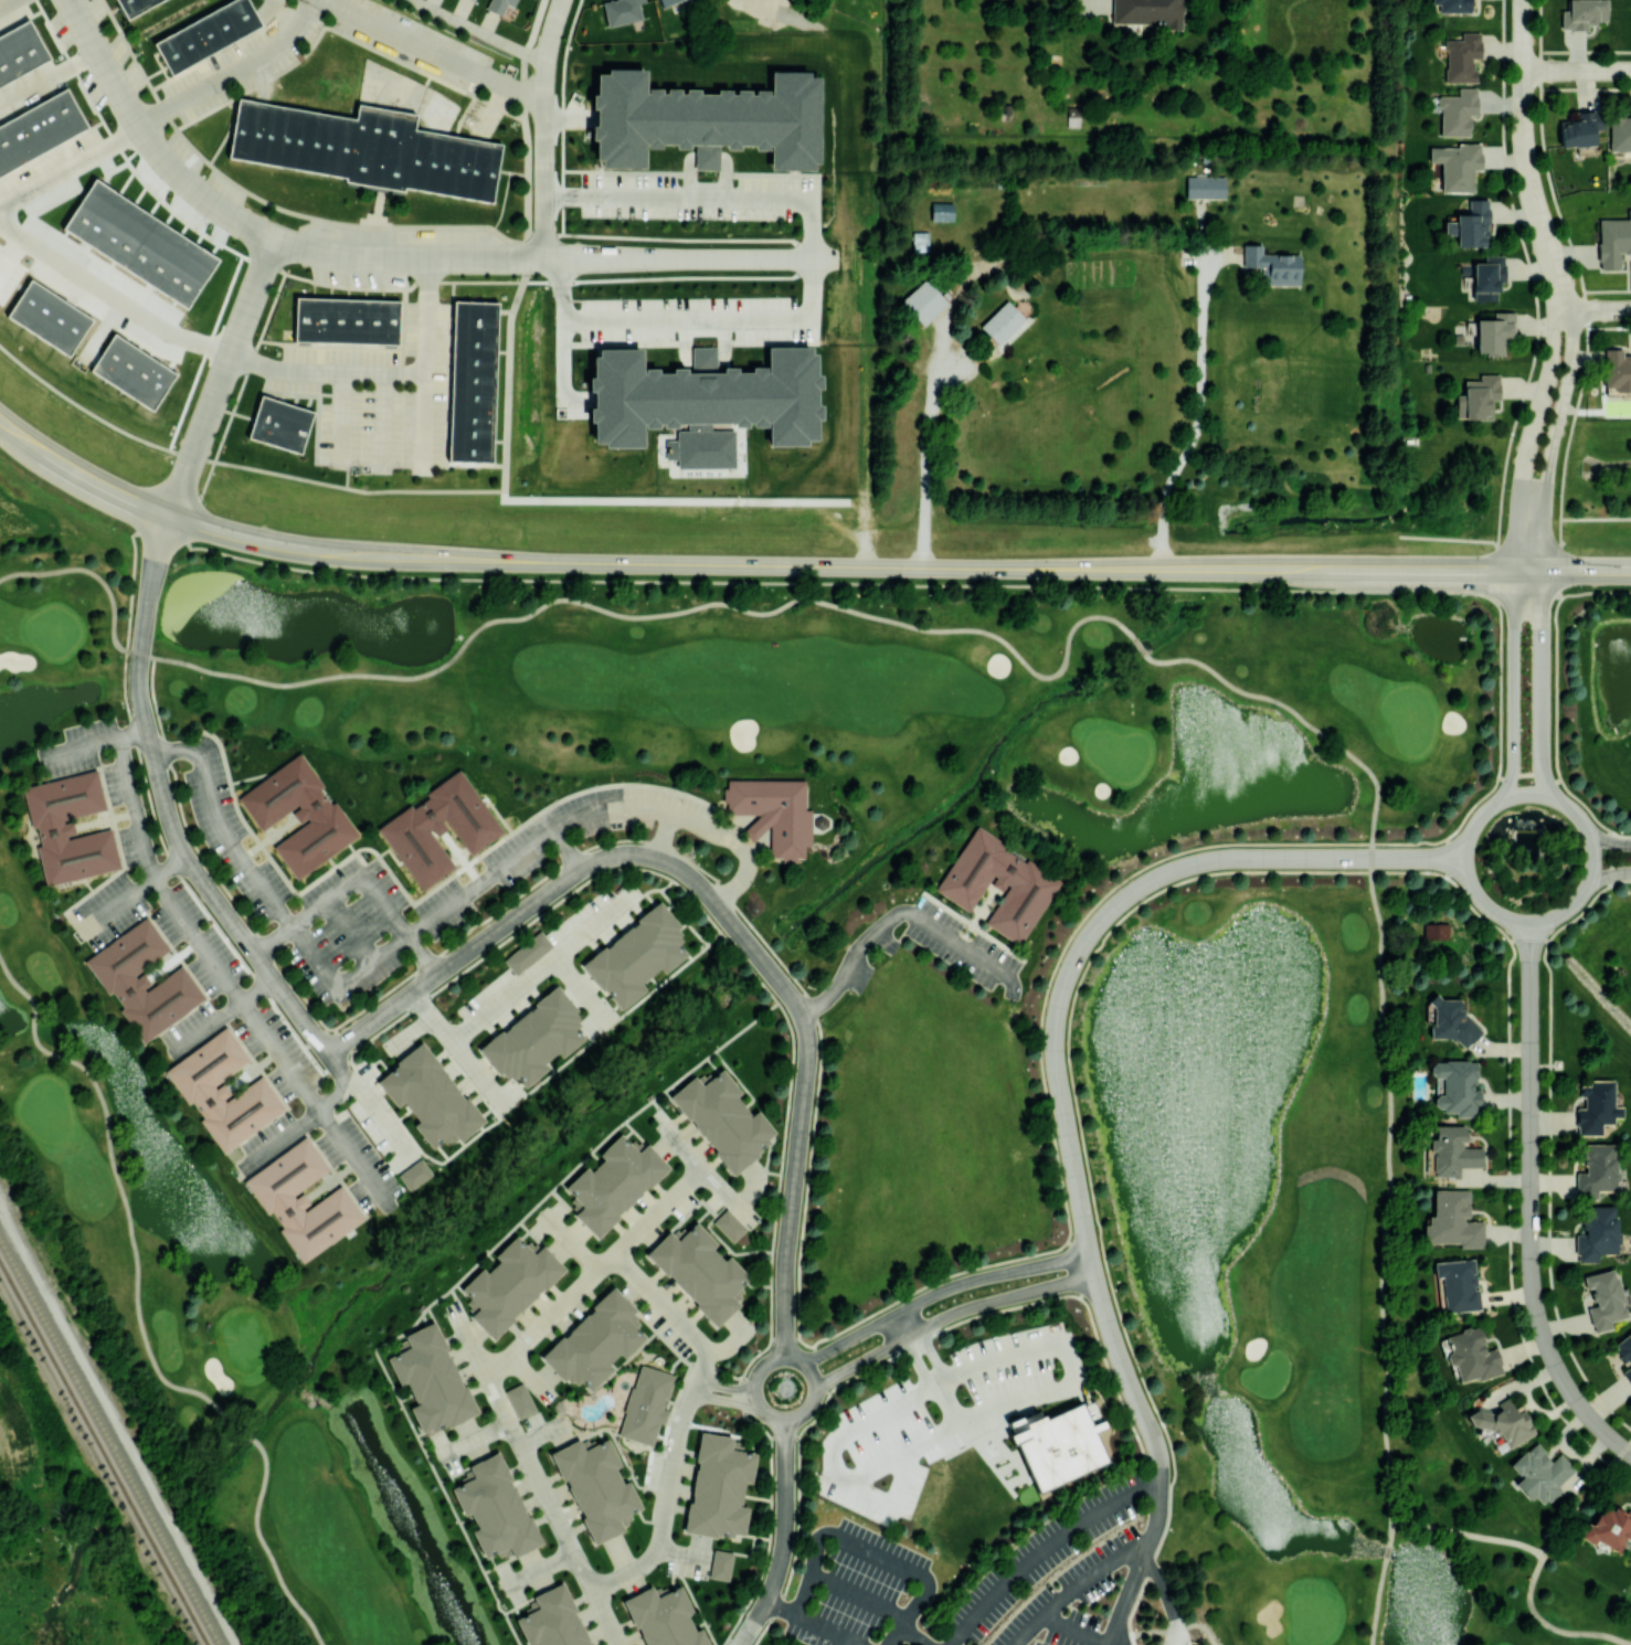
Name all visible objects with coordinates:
road: (1098, 0)
road: (3, 1)
building: (667, 2)
building: (498, 4)
road: (751, 6)
building: (1452, 6)
building: (133, 8)
building: (621, 11)
building: (1147, 12)
building: (1582, 13)
road: (478, 32)
building: (204, 36)
road: (435, 50)
building: (18, 53)
building: (1462, 57)
road: (231, 70)
road: (1577, 70)
road: (47, 73)
building: (1457, 112)
road: (569, 117)
building: (708, 119)
road: (544, 128)
building: (1580, 128)
building: (38, 131)
building: (1620, 132)
road: (148, 140)
building: (361, 147)
road: (1525, 157)
building: (1457, 166)
road: (622, 171)
building: (1205, 187)
road: (552, 194)
road: (717, 197)
building: (941, 211)
road: (0, 220)
building: (1470, 224)
road: (1203, 230)
road: (720, 240)
building: (1613, 241)
building: (142, 242)
road: (529, 244)
road: (553, 245)
road: (40, 247)
road: (1220, 256)
road: (407, 257)
road: (679, 258)
building: (1273, 265)
building: (1487, 276)
road: (425, 279)
building: (923, 301)
road: (1597, 309)
building: (53, 318)
road: (717, 318)
building: (1002, 321)
building: (342, 323)
road: (563, 329)
building: (1494, 332)
road: (250, 358)
road: (345, 370)
building: (135, 372)
building: (1618, 372)
road: (221, 376)
road: (421, 383)
building: (472, 384)
road: (933, 397)
building: (703, 401)
road: (233, 405)
road: (1198, 415)
road: (340, 416)
road: (381, 418)
building: (277, 427)
road: (1529, 437)
road: (1551, 437)
road: (78, 475)
road: (410, 490)
road: (1526, 546)
road: (896, 565)
road: (96, 575)
road: (568, 579)
road: (656, 615)
road: (1138, 645)
road: (1514, 684)
road: (1539, 684)
road: (1301, 719)
road: (133, 733)
road: (83, 746)
road: (174, 749)
parking lot: (106, 778)
road: (167, 806)
building: (774, 810)
building: (321, 813)
building: (298, 816)
building: (437, 827)
building: (758, 827)
building: (66, 828)
building: (400, 829)
road: (549, 830)
building: (46, 831)
parking lot: (231, 831)
road: (664, 832)
fountain: (1525, 832)
road: (1607, 839)
road: (569, 848)
parking lot: (516, 862)
road: (745, 864)
road: (253, 874)
road: (1608, 877)
building: (997, 883)
building: (1032, 884)
road: (137, 890)
road: (336, 892)
park: (521, 896)
road: (385, 904)
road: (1114, 908)
parking lot: (107, 909)
road: (720, 910)
road: (1532, 922)
road: (351, 928)
road: (279, 930)
building: (1437, 932)
parking lot: (350, 933)
road: (193, 935)
parking lot: (198, 937)
road: (960, 943)
parking lot: (961, 946)
building: (527, 952)
building: (636, 955)
road: (421, 956)
road: (850, 958)
road: (370, 962)
road: (537, 970)
building: (141, 980)
building: (176, 984)
road: (579, 988)
road: (257, 989)
building: (1450, 1020)
road: (210, 1023)
parking lot: (191, 1028)
building: (533, 1039)
road: (456, 1046)
parking lot: (282, 1053)
building: (1457, 1087)
building: (222, 1093)
building: (255, 1096)
road: (335, 1096)
building: (428, 1096)
road: (367, 1104)
park: (1235, 1107)
building: (1596, 1107)
building: (720, 1118)
road: (282, 1137)
parking lot: (268, 1143)
road: (350, 1150)
building: (1452, 1150)
parking lot: (358, 1164)
building: (1597, 1170)
road: (709, 1171)
building: (414, 1174)
building: (615, 1184)
road: (1390, 1189)
road: (121, 1191)
building: (300, 1203)
road: (1531, 1203)
building: (332, 1204)
road: (658, 1209)
building: (1453, 1220)
building: (730, 1224)
building: (1597, 1232)
road: (571, 1242)
building: (699, 1272)
building: (1459, 1284)
building: (508, 1285)
road: (939, 1291)
building: (1603, 1298)
road: (550, 1315)
road: (949, 1315)
road: (902, 1323)
building: (595, 1341)
road: (469, 1344)
road: (932, 1352)
building: (1624, 1352)
road: (915, 1360)
road: (1123, 1368)
road: (1072, 1377)
building: (428, 1382)
road: (726, 1383)
road: (723, 1398)
building: (520, 1400)
building: (644, 1405)
road: (677, 1419)
road: (775, 1420)
building: (1501, 1424)
road: (246, 1433)
railway: (109, 1442)
road: (1628, 1444)
building: (1060, 1446)
railway: (103, 1454)
building: (1539, 1473)
building: (717, 1487)
building: (595, 1489)
road: (1584, 1500)
road: (551, 1507)
building: (494, 1509)
road: (1155, 1521)
building: (1608, 1527)
road: (1391, 1530)
road: (784, 1531)
road: (1470, 1533)
road: (265, 1548)
road: (1044, 1548)
road: (1387, 1550)
road: (878, 1552)
building: (720, 1564)
road: (539, 1566)
road: (812, 1567)
parking lot: (1052, 1574)
parking lot: (857, 1585)
road: (1077, 1586)
road: (860, 1593)
road: (1166, 1599)
road: (1125, 1600)
road: (920, 1601)
road: (1377, 1602)
road: (780, 1603)
building: (663, 1619)
building: (551, 1621)
road: (1199, 1626)
road: (1549, 1626)
road: (827, 1627)
road: (1077, 1628)
road: (1144, 1632)
road: (893, 1635)
road: (914, 1635)
road: (740, 1639)
road: (1109, 1644)
road: (1110, 1644)

